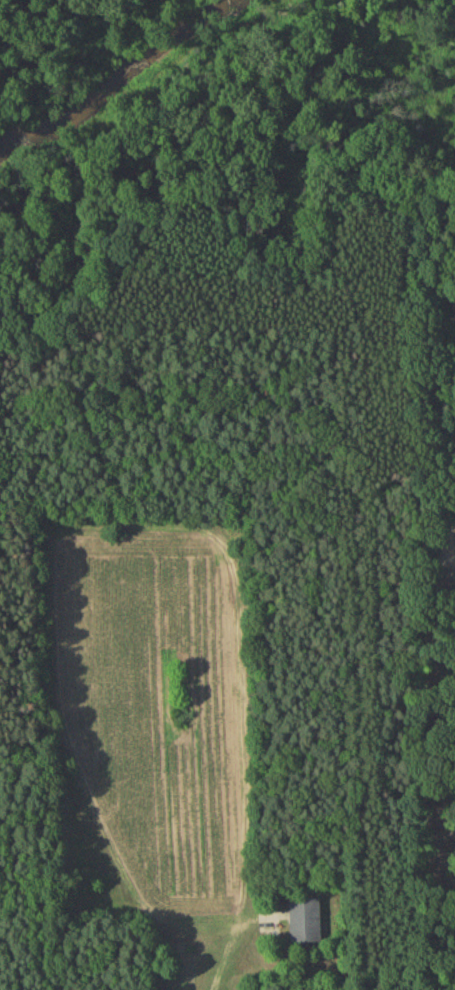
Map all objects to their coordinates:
building: (307, 923)

